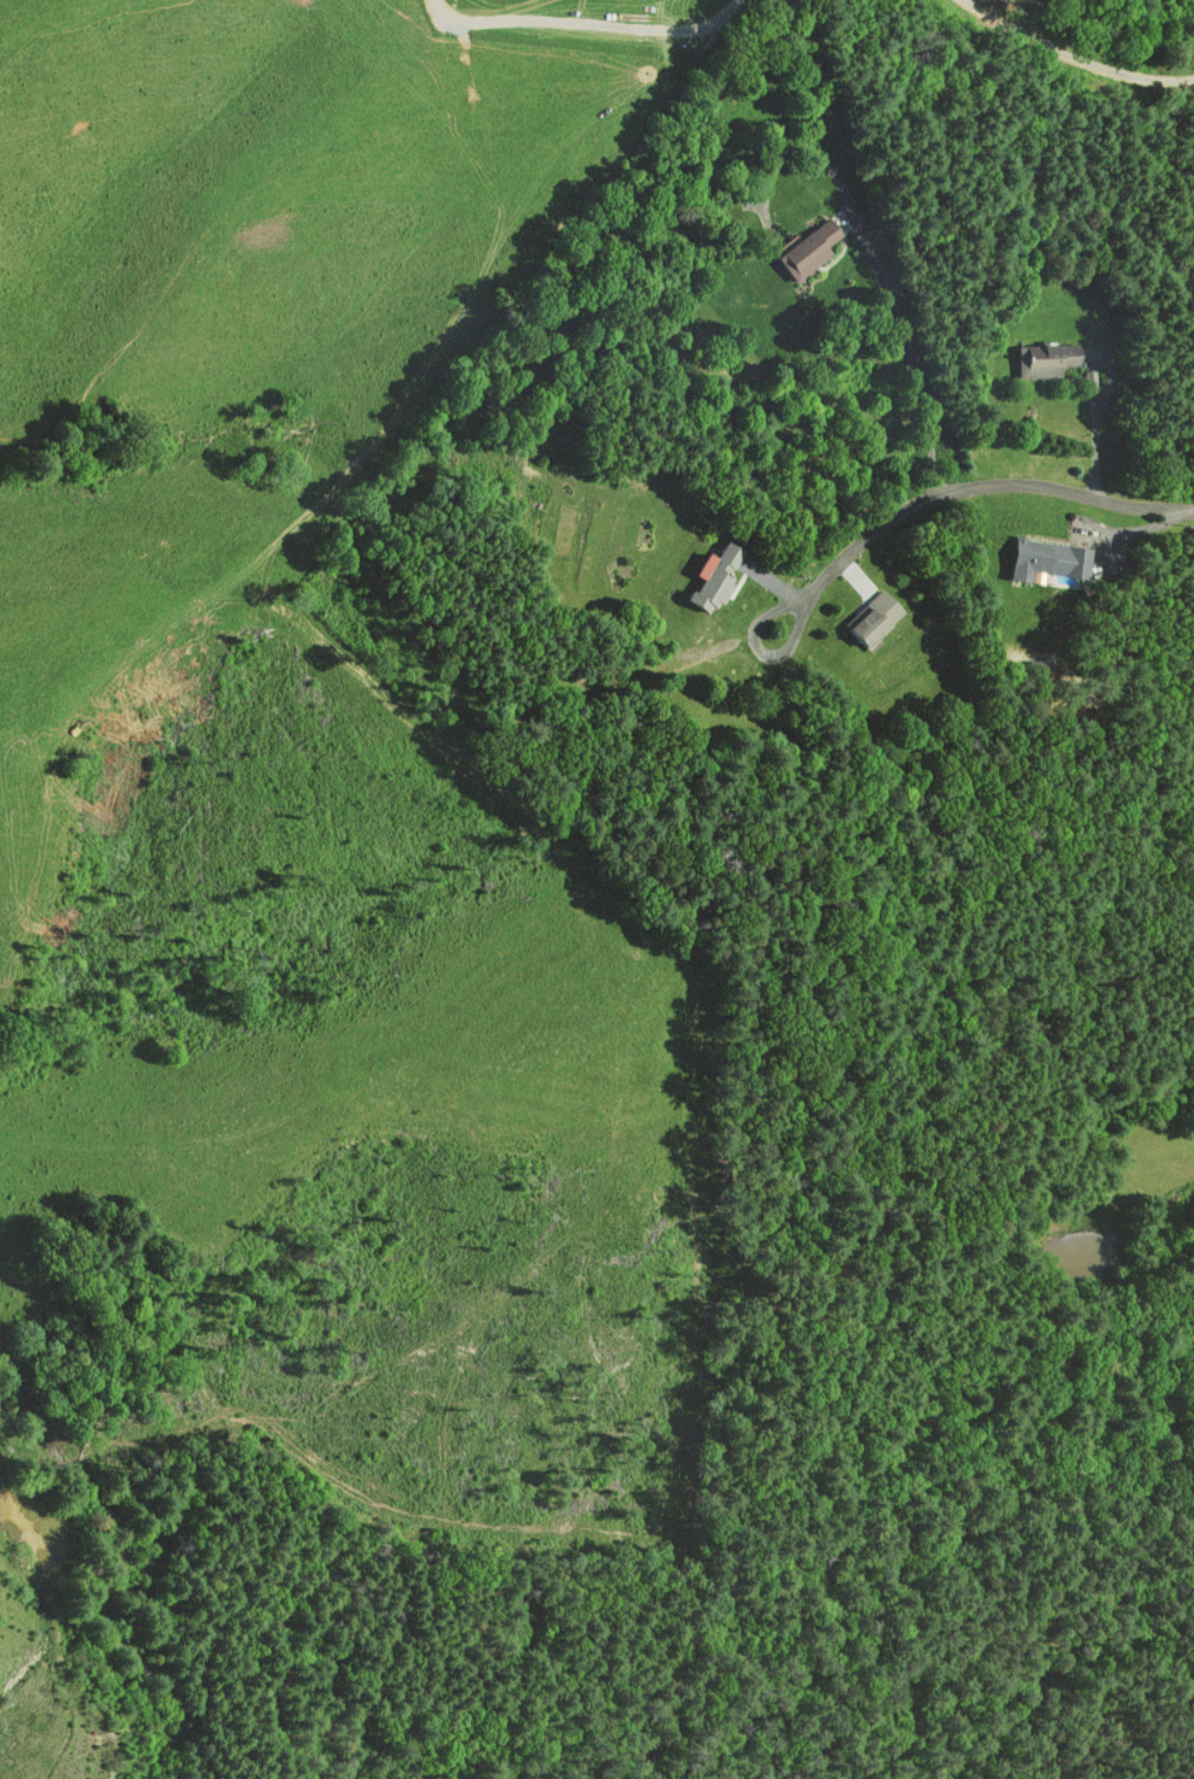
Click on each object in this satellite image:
road: (878, 275)
road: (987, 485)
road: (760, 648)

